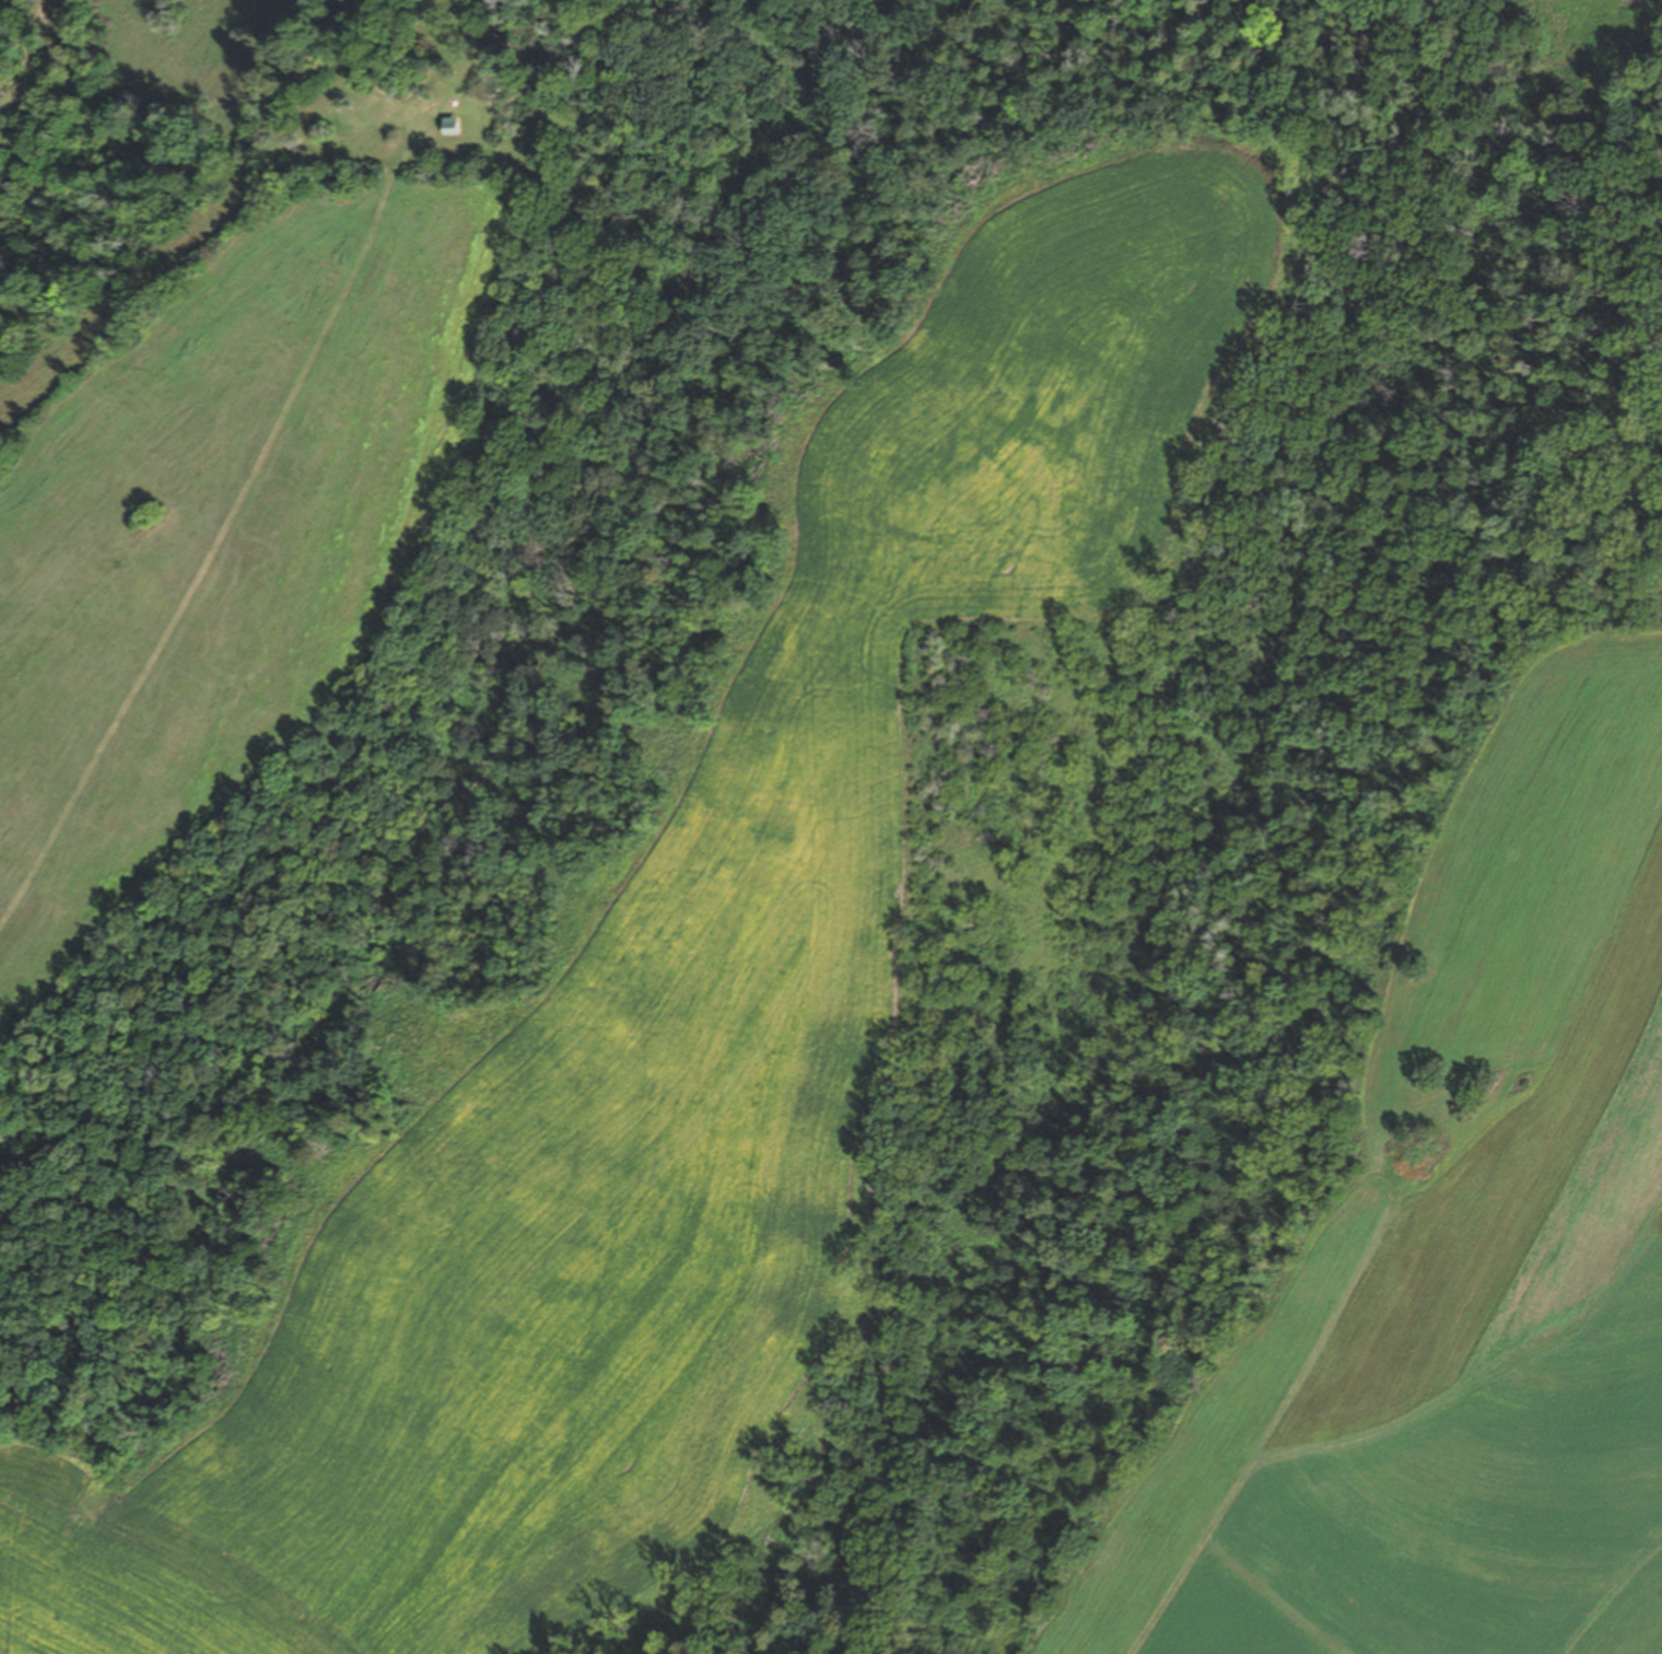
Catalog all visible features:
building: (447, 126)

